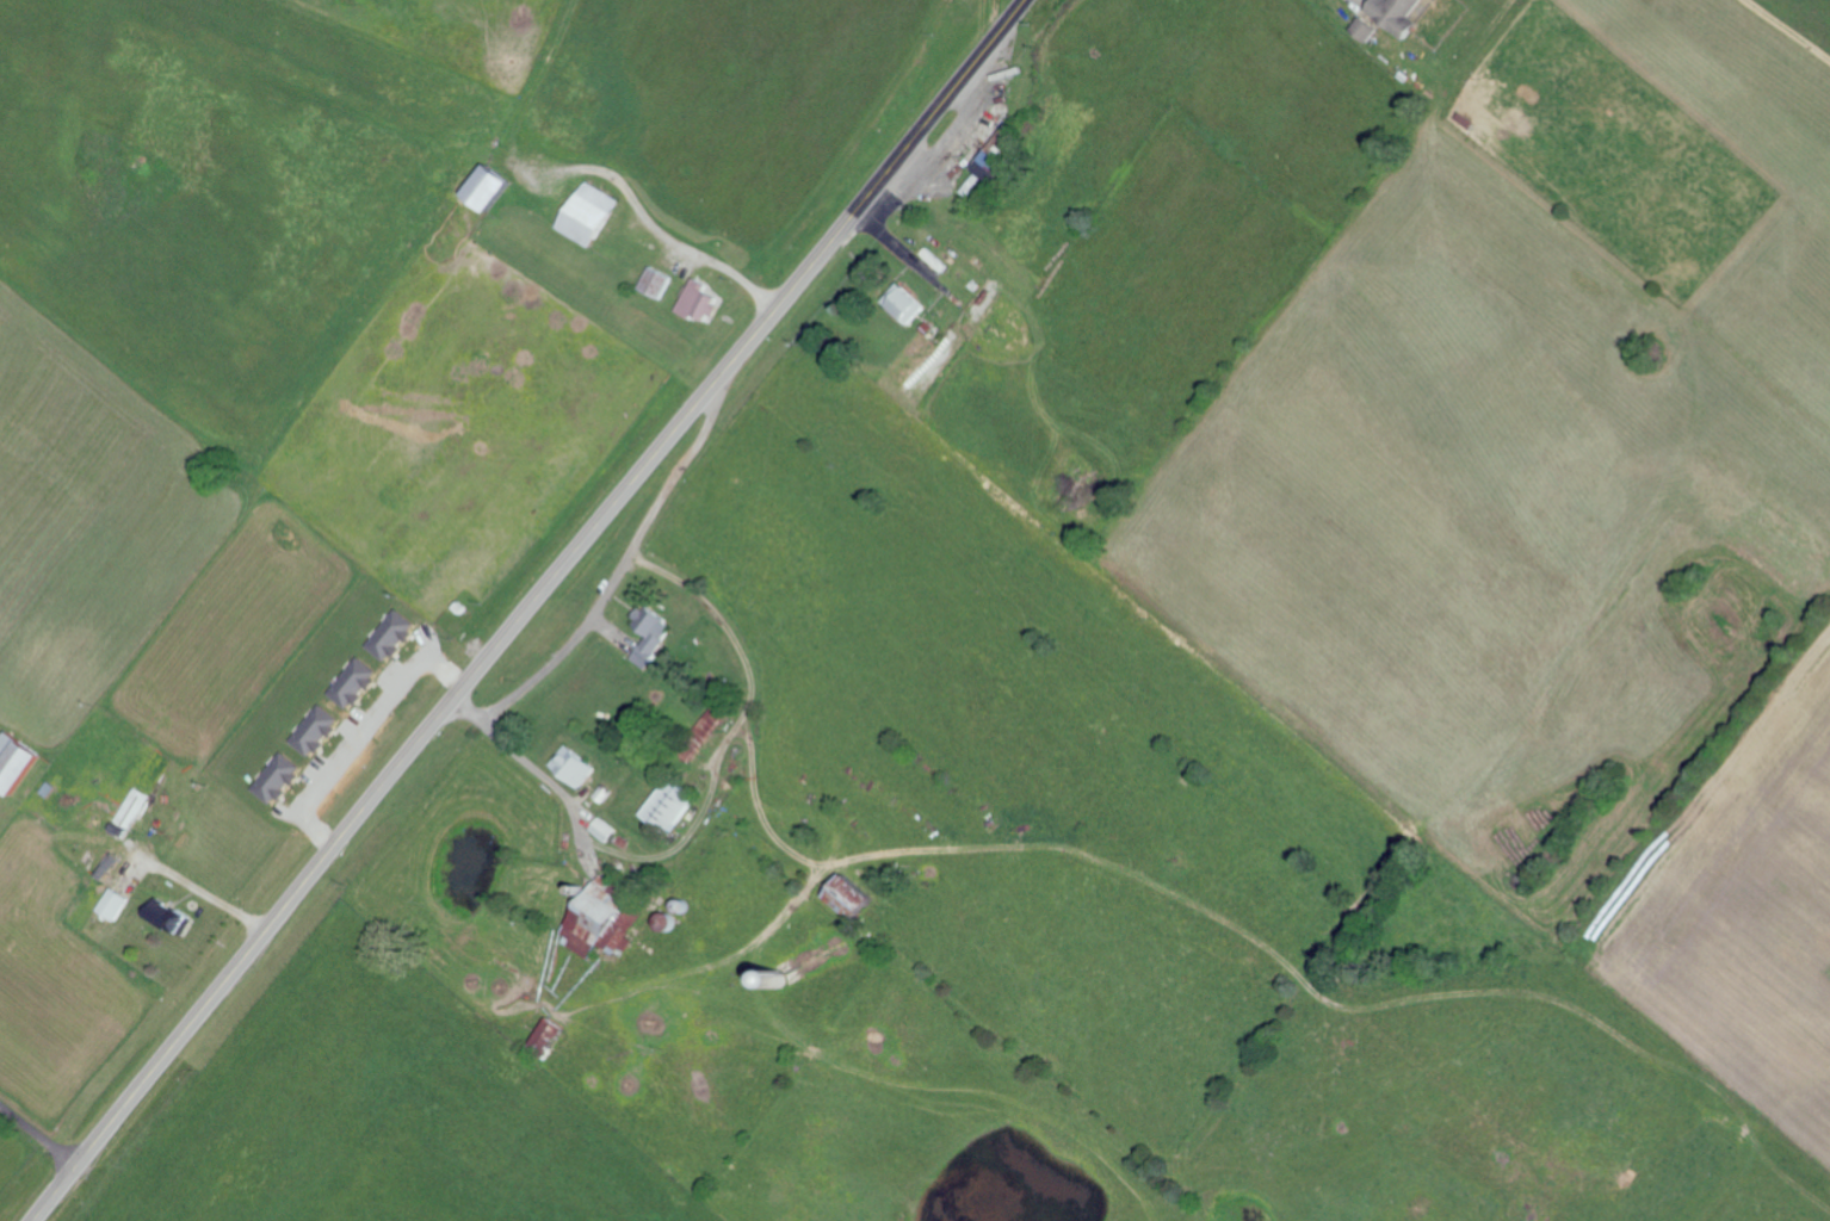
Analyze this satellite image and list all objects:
building: (1405, 14)
building: (1372, 27)
building: (1000, 154)
building: (499, 188)
building: (595, 215)
building: (703, 299)
building: (910, 304)
road: (525, 609)
building: (651, 633)
building: (398, 634)
building: (360, 683)
building: (321, 730)
building: (704, 732)
building: (20, 762)
building: (579, 764)
building: (283, 777)
building: (672, 802)
building: (134, 811)
building: (608, 829)
building: (859, 895)
building: (118, 903)
building: (175, 915)
building: (599, 921)
building: (551, 1036)
road: (36, 1136)

